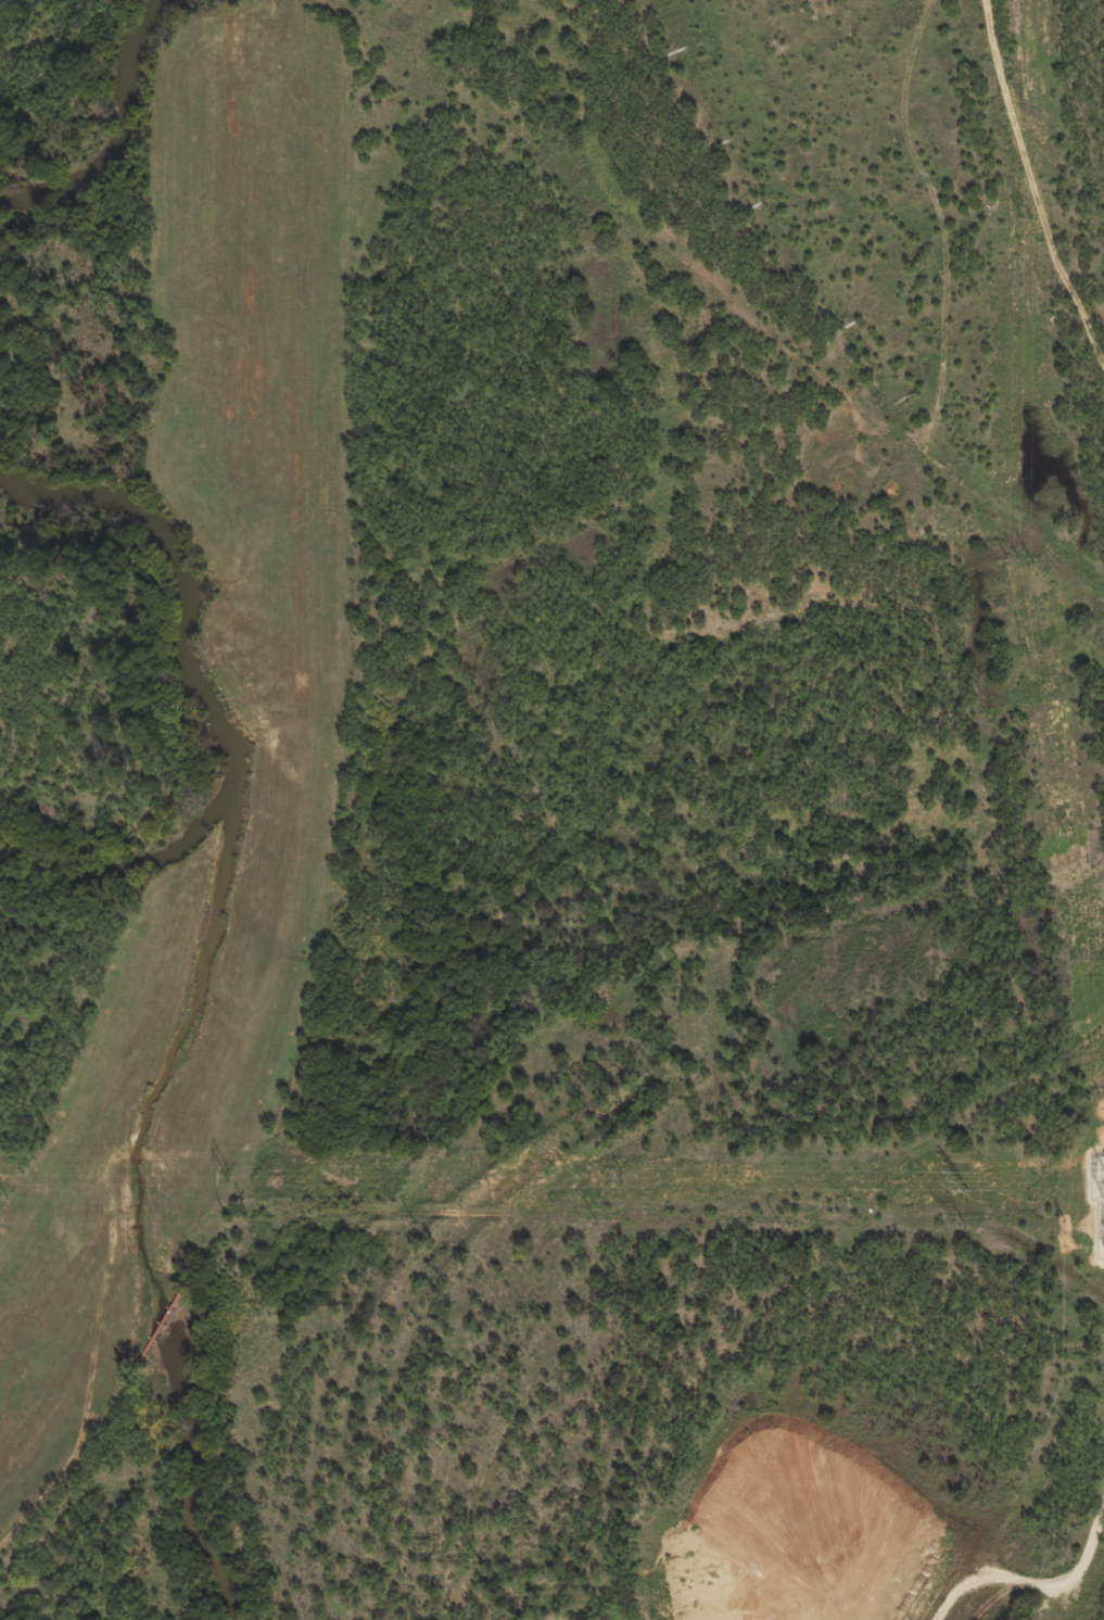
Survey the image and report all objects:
road: (1038, 182)
power tower: (1026, 219)
power tower: (1018, 559)
power tower: (1068, 835)
power tower: (228, 1176)
power tower: (621, 1178)
power tower: (959, 1179)
power substation: (1099, 1201)

